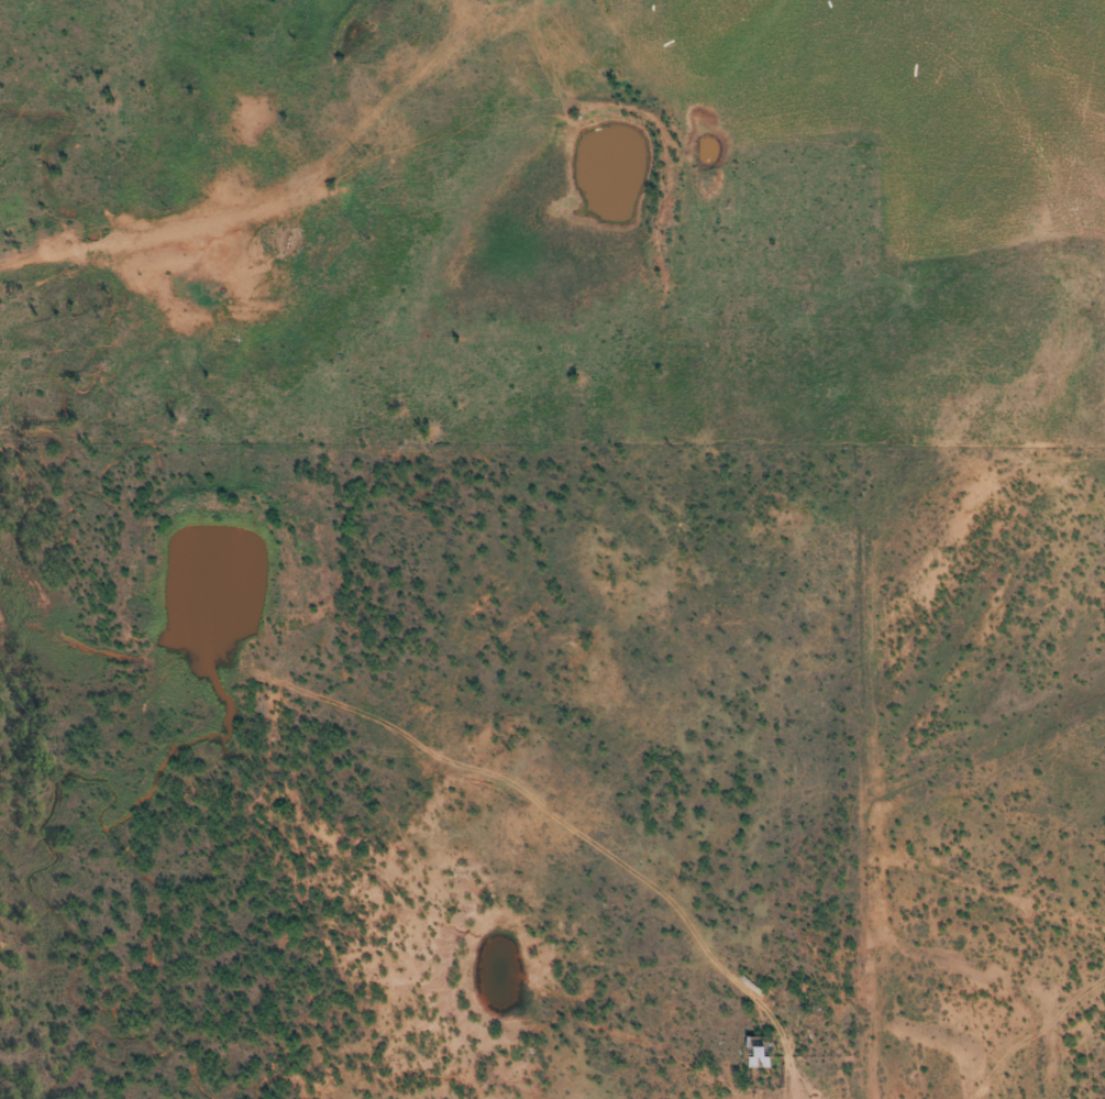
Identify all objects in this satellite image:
road: (288, 206)
building: (755, 1067)

